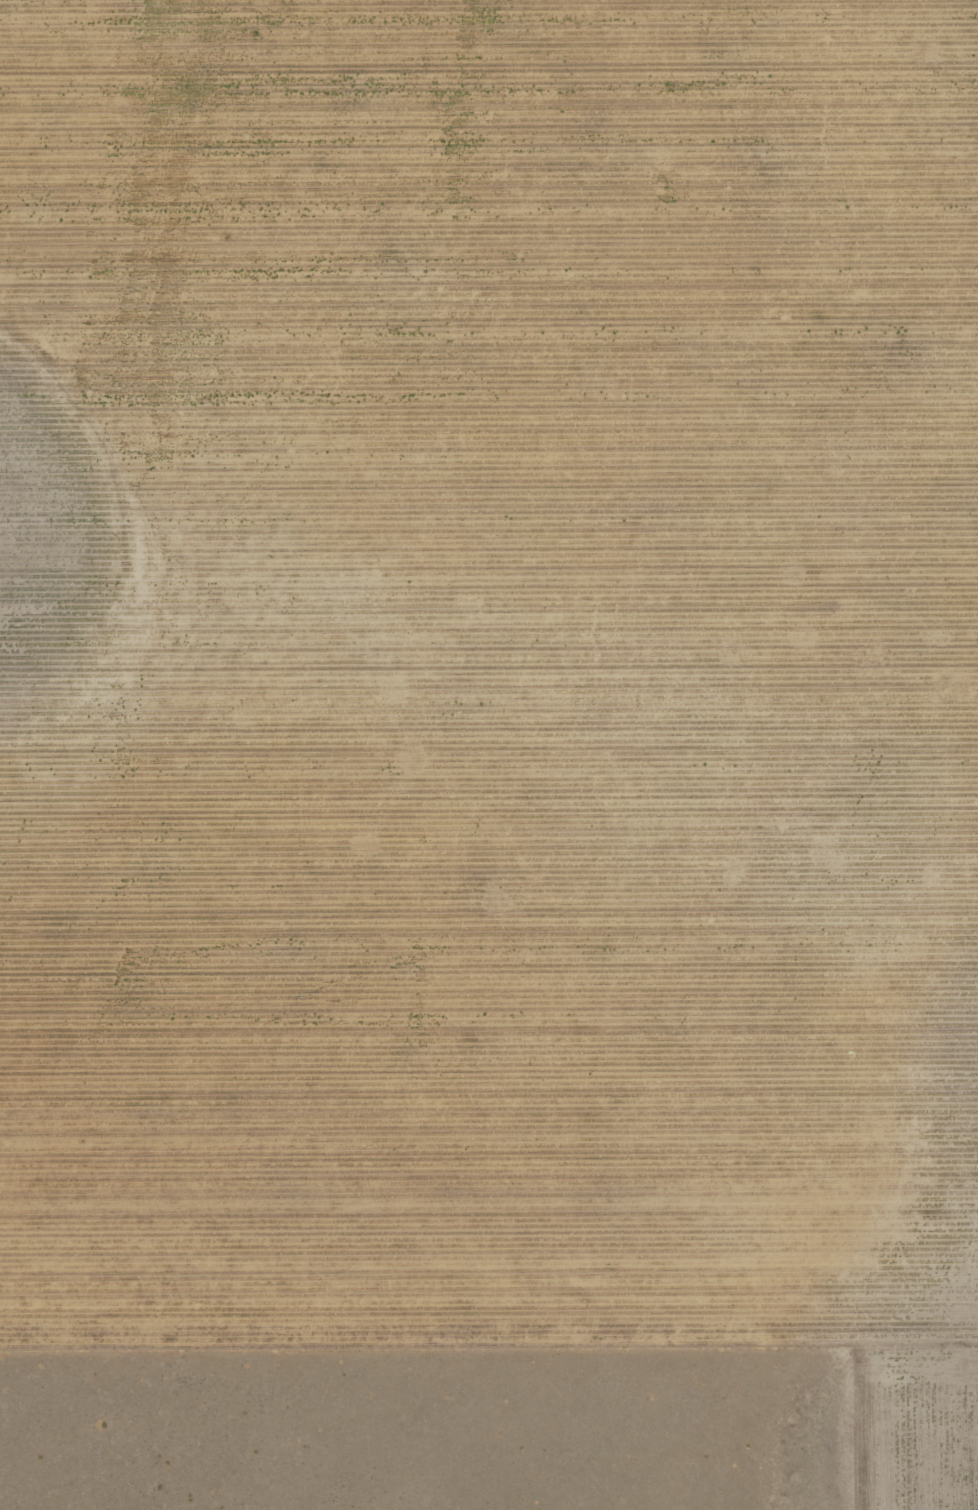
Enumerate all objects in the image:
road: (489, 1341)

